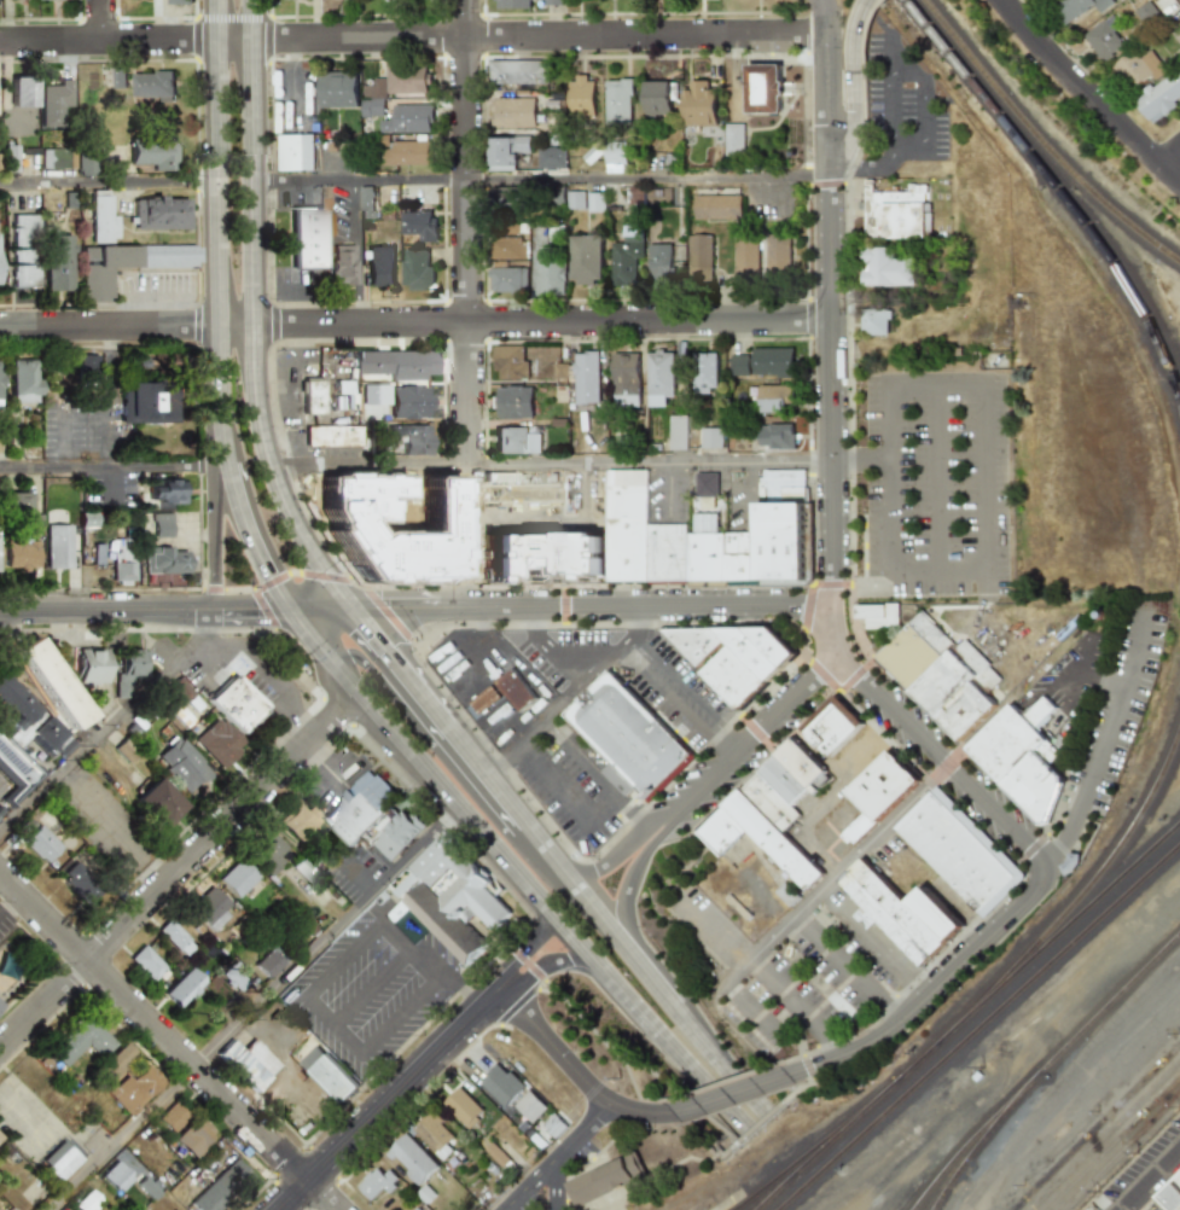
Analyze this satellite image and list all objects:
building: (19, 0)
building: (179, 1)
building: (552, 2)
building: (511, 4)
building: (1081, 7)
road: (101, 19)
road: (413, 37)
building: (1106, 39)
building: (1179, 39)
road: (858, 48)
road: (705, 56)
road: (894, 58)
building: (1139, 69)
building: (517, 72)
building: (117, 77)
road: (826, 83)
building: (152, 85)
building: (391, 87)
building: (337, 89)
building: (762, 89)
building: (22, 92)
road: (800, 92)
road: (1092, 94)
building: (1161, 97)
building: (581, 98)
building: (657, 98)
road: (924, 100)
building: (53, 103)
building: (618, 103)
building: (699, 104)
flagpole: (795, 110)
building: (511, 112)
road: (893, 112)
building: (407, 118)
road: (848, 138)
building: (733, 139)
railway: (1039, 142)
building: (296, 152)
building: (401, 152)
building: (505, 152)
building: (152, 153)
road: (911, 153)
building: (10, 158)
building: (57, 158)
building: (550, 158)
building: (615, 158)
road: (1170, 161)
building: (83, 165)
road: (864, 168)
road: (645, 176)
road: (360, 180)
road: (110, 181)
road: (826, 184)
railway: (1056, 190)
building: (505, 198)
building: (574, 200)
building: (594, 202)
building: (365, 203)
building: (715, 206)
building: (158, 213)
building: (895, 214)
building: (100, 217)
building: (418, 225)
building: (306, 238)
building: (534, 239)
building: (505, 248)
building: (22, 250)
building: (777, 254)
building: (745, 255)
building: (627, 257)
building: (698, 258)
building: (586, 260)
building: (56, 262)
building: (659, 262)
building: (124, 264)
building: (341, 264)
building: (379, 266)
building: (888, 268)
building: (415, 269)
building: (548, 277)
building: (506, 280)
road: (178, 296)
road: (467, 304)
road: (222, 312)
road: (254, 316)
building: (873, 321)
road: (414, 324)
building: (772, 362)
building: (86, 363)
building: (395, 363)
building: (523, 363)
building: (738, 365)
building: (704, 372)
building: (586, 378)
building: (659, 378)
building: (22, 380)
building: (626, 380)
road: (902, 382)
road: (808, 384)
road: (829, 386)
building: (374, 394)
road: (110, 396)
building: (773, 397)
building: (314, 402)
building: (407, 402)
building: (512, 402)
street lamp: (958, 402)
building: (144, 403)
street lamp: (911, 403)
building: (676, 432)
building: (775, 436)
road: (60, 437)
building: (409, 438)
building: (710, 438)
building: (516, 440)
building: (326, 442)
road: (859, 460)
road: (370, 463)
road: (649, 464)
road: (115, 467)
road: (935, 477)
parking lot: (936, 483)
building: (705, 484)
street lamp: (912, 484)
street lamp: (959, 484)
building: (167, 491)
road: (672, 494)
building: (17, 502)
building: (86, 519)
road: (861, 523)
street lamp: (1008, 523)
building: (162, 525)
road: (217, 537)
building: (780, 545)
building: (57, 546)
street lamp: (959, 546)
street lamp: (912, 547)
building: (22, 552)
building: (164, 560)
road: (849, 574)
traffic signals: (272, 575)
road: (808, 589)
street lamp: (934, 598)
road: (651, 604)
road: (322, 609)
road: (412, 609)
road: (109, 610)
road: (254, 610)
traffic signals: (256, 610)
traffic signals: (395, 610)
building: (878, 616)
road: (833, 629)
road: (377, 636)
traffic signals: (377, 636)
road: (315, 638)
road: (550, 650)
traffic signals: (351, 657)
building: (732, 657)
road: (367, 659)
building: (89, 665)
road: (272, 671)
building: (130, 673)
building: (942, 675)
road: (473, 676)
road: (686, 682)
road: (1100, 682)
building: (53, 685)
building: (513, 690)
road: (572, 693)
building: (186, 694)
road: (423, 696)
road: (665, 700)
road: (1012, 700)
building: (14, 703)
building: (237, 703)
building: (478, 703)
building: (831, 725)
road: (114, 726)
road: (757, 735)
building: (52, 737)
building: (630, 737)
building: (221, 743)
road: (727, 745)
road: (1104, 746)
building: (1025, 752)
road: (325, 760)
road: (585, 761)
road: (941, 761)
building: (800, 762)
building: (184, 763)
building: (16, 772)
road: (487, 774)
building: (783, 780)
road: (449, 791)
building: (877, 792)
building: (769, 801)
building: (158, 802)
road: (568, 804)
building: (359, 807)
road: (636, 813)
building: (297, 820)
road: (661, 821)
railway: (1178, 826)
building: (720, 831)
building: (397, 836)
building: (772, 839)
building: (40, 843)
road: (546, 849)
building: (267, 851)
road: (832, 851)
building: (958, 853)
road: (611, 860)
building: (1069, 863)
road: (180, 871)
road: (837, 874)
building: (237, 878)
building: (81, 883)
road: (937, 884)
railway: (1082, 890)
building: (786, 894)
building: (451, 897)
road: (742, 906)
building: (210, 907)
building: (887, 911)
building: (934, 915)
street lamp: (675, 923)
road: (627, 925)
street lamp: (849, 931)
railway: (1063, 931)
building: (175, 936)
road: (865, 938)
road: (356, 943)
railway: (1070, 944)
road: (524, 949)
street lamp: (774, 952)
street lamp: (873, 958)
road: (424, 960)
building: (146, 961)
building: (267, 962)
road: (551, 962)
street lamp: (802, 966)
road: (803, 967)
road: (850, 968)
street lamp: (722, 971)
building: (234, 977)
street lamp: (820, 984)
parking lot: (372, 985)
building: (182, 987)
road: (371, 987)
road: (459, 987)
road: (935, 990)
road: (487, 994)
street lamp: (761, 994)
road: (662, 996)
road: (798, 1006)
road: (257, 1007)
building: (844, 1011)
road: (756, 1013)
road: (152, 1025)
road: (651, 1025)
street lamp: (745, 1036)
building: (80, 1040)
road: (370, 1046)
road: (616, 1048)
railway: (925, 1055)
building: (248, 1061)
road: (572, 1068)
railway: (1044, 1069)
building: (326, 1074)
road: (632, 1076)
building: (126, 1080)
building: (501, 1084)
road: (728, 1095)
building: (529, 1106)
road: (376, 1107)
building: (461, 1107)
building: (173, 1116)
building: (553, 1124)
road: (763, 1124)
railway: (871, 1127)
railway: (1097, 1127)
building: (432, 1134)
building: (192, 1135)
railway: (1105, 1135)
railway: (984, 1138)
railway: (1112, 1144)
railway: (819, 1145)
railway: (829, 1145)
railway: (1122, 1152)
road: (559, 1157)
road: (599, 1157)
building: (60, 1158)
building: (411, 1159)
building: (116, 1176)
road: (557, 1179)
road: (1149, 1179)
building: (376, 1182)
building: (600, 1182)
building: (220, 1187)
railway: (740, 1188)
railway: (777, 1193)
road: (321, 1194)
building: (1172, 1194)
building: (86, 1200)
road: (548, 1203)
road: (615, 1203)
building: (413, 1209)
building: (414, 1209)

